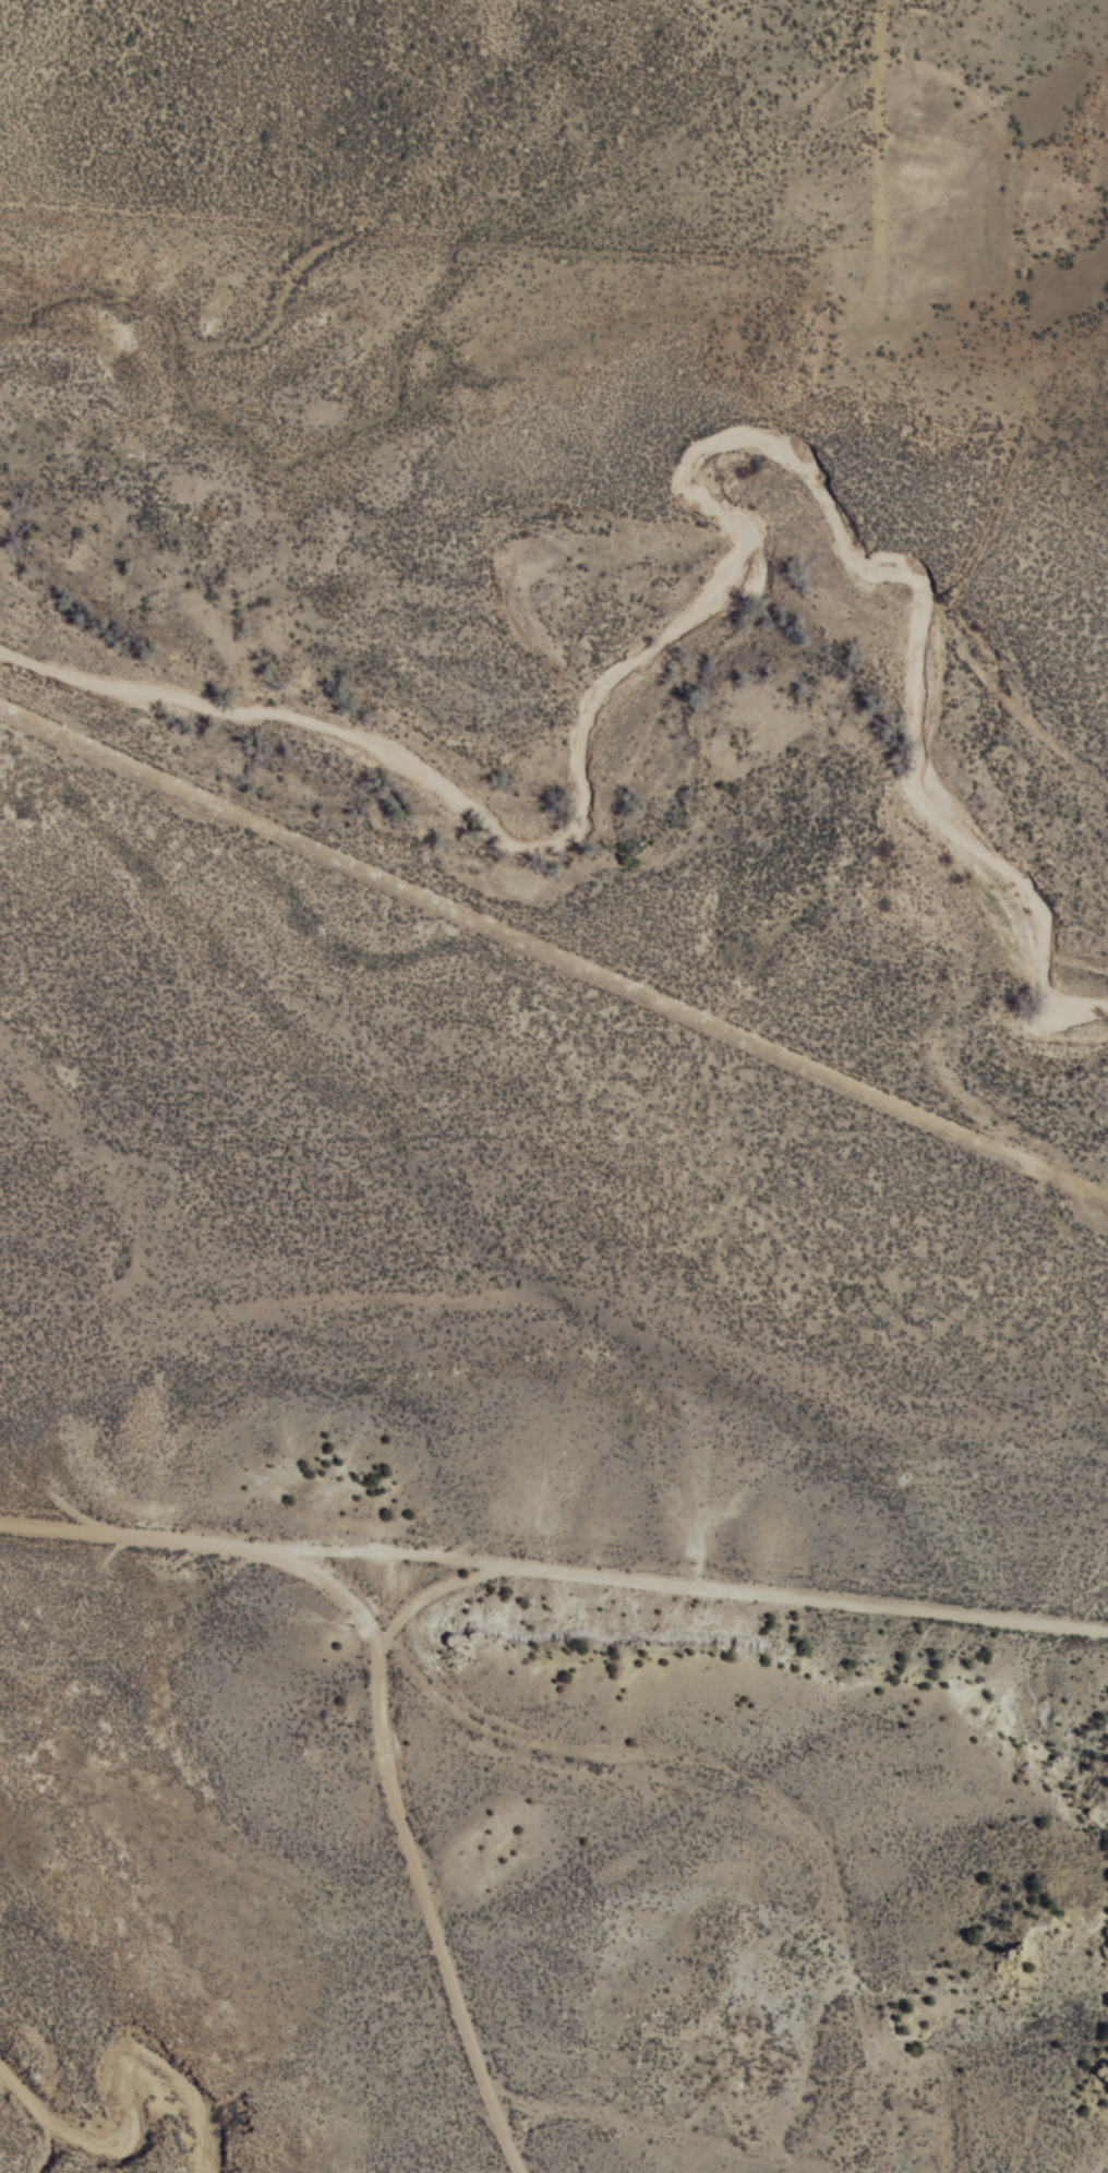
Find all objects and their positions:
road: (393, 206)
river: (622, 637)
road: (553, 1584)
road: (429, 1881)
river: (113, 2134)

